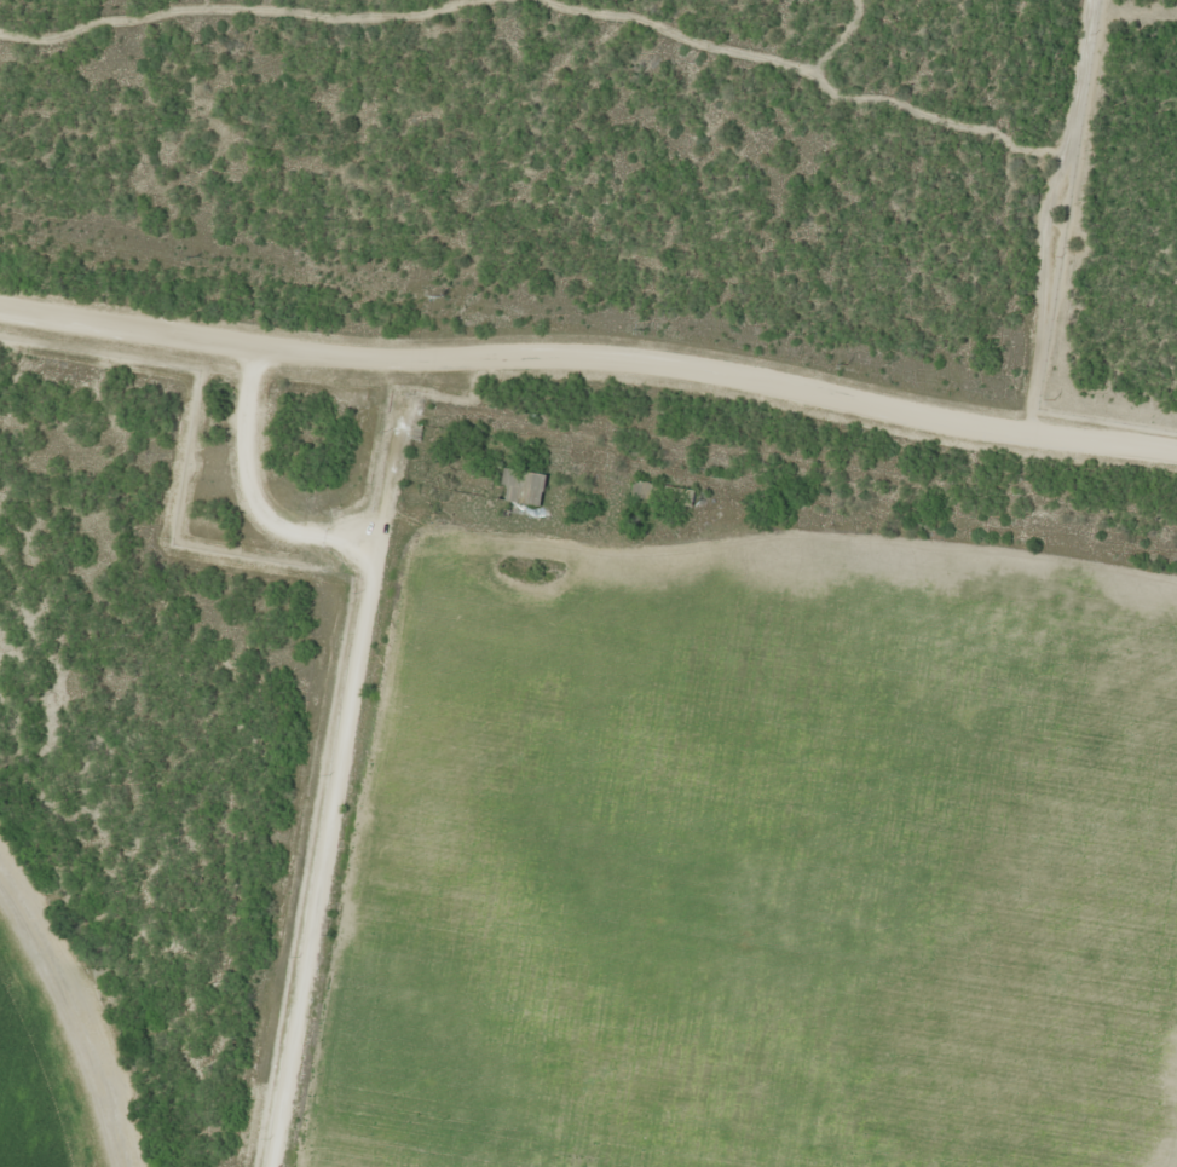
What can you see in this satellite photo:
road: (588, 335)
railway: (588, 368)
road: (115, 372)
building: (523, 487)
building: (663, 495)
road: (328, 797)

